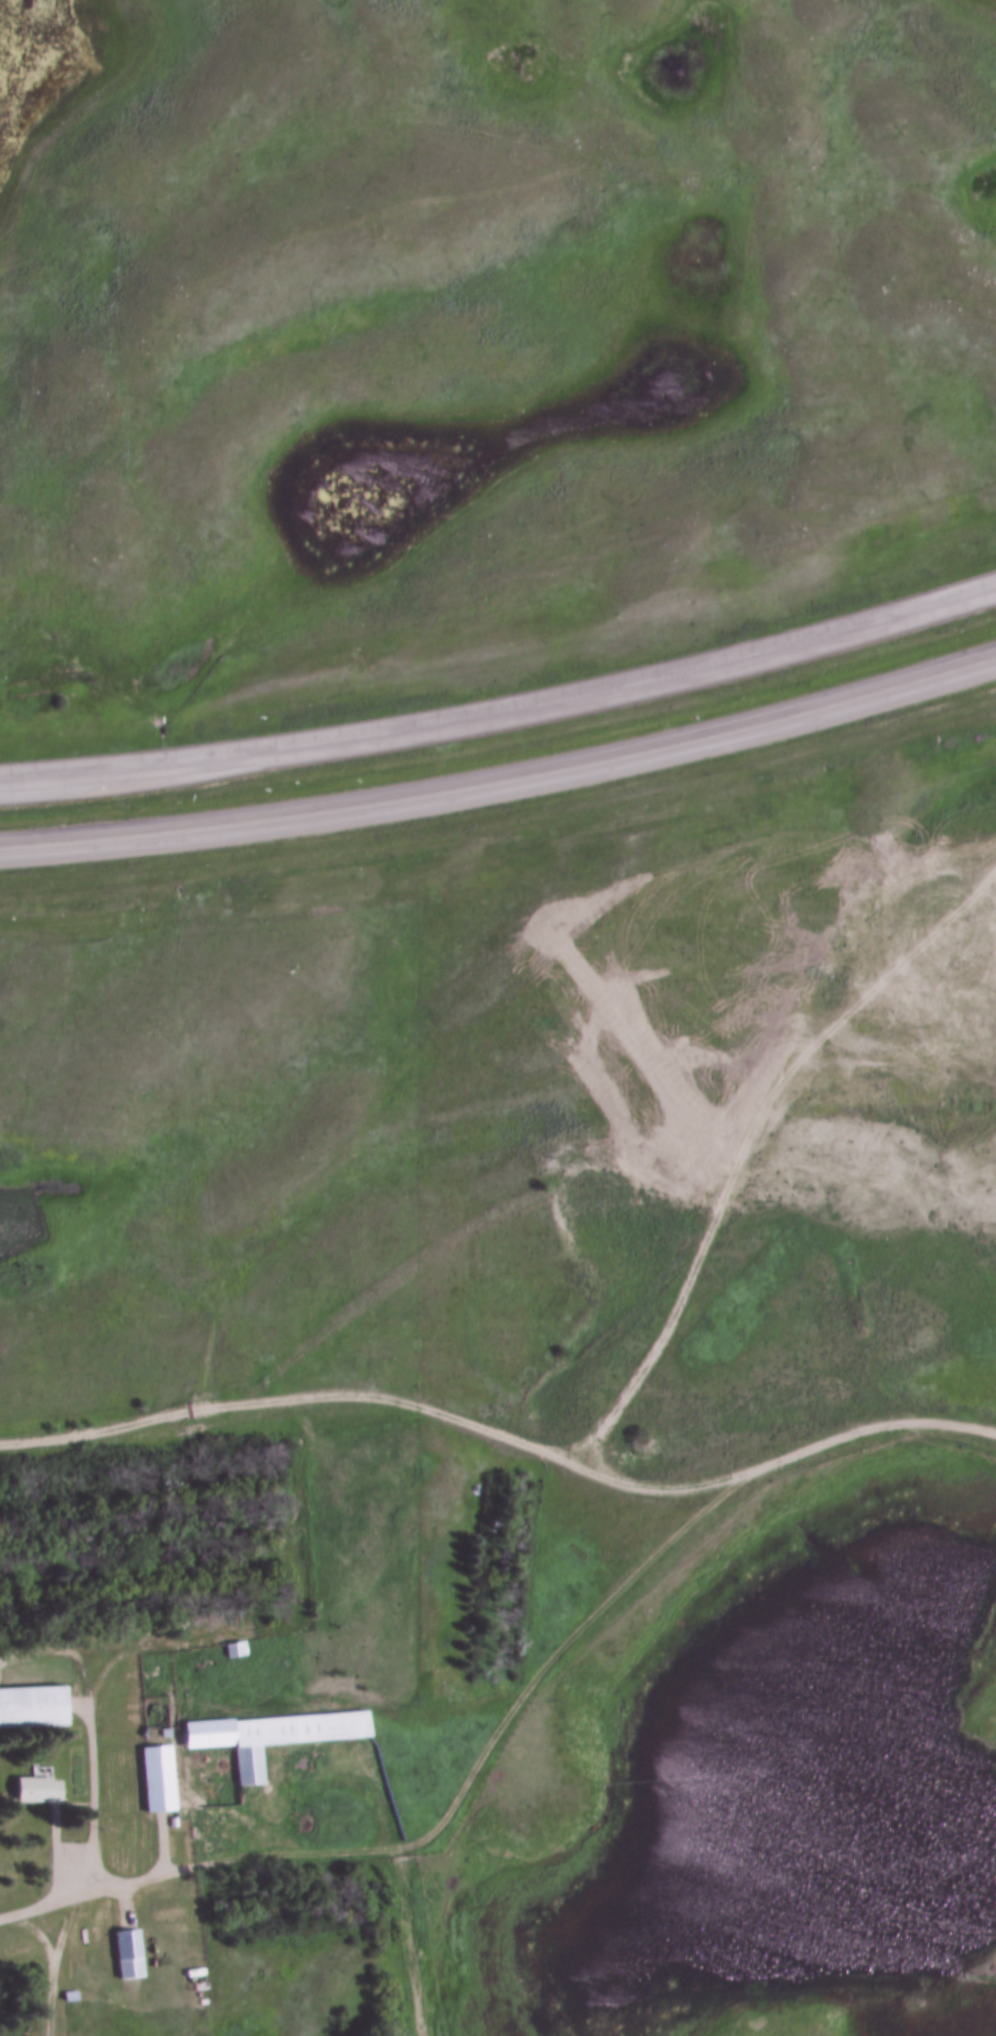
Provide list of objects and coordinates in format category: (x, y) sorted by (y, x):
road: (503, 716)
road: (502, 779)
road: (503, 1438)
building: (33, 1708)
building: (273, 1737)
building: (158, 1779)
building: (36, 1790)
road: (91, 1803)
road: (373, 1850)
road: (109, 1885)
road: (37, 1933)
building: (128, 1954)
road: (53, 1963)

